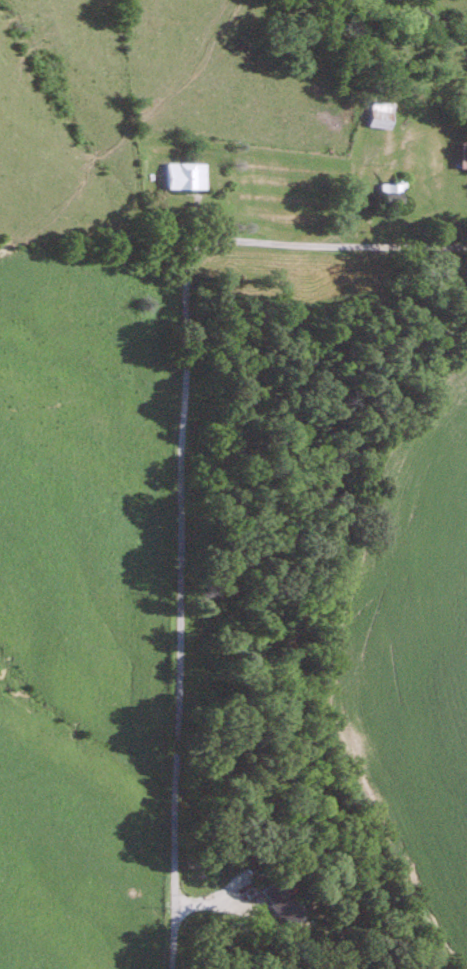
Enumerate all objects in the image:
building: (383, 112)
building: (464, 154)
building: (189, 174)
building: (395, 191)
road: (174, 469)

